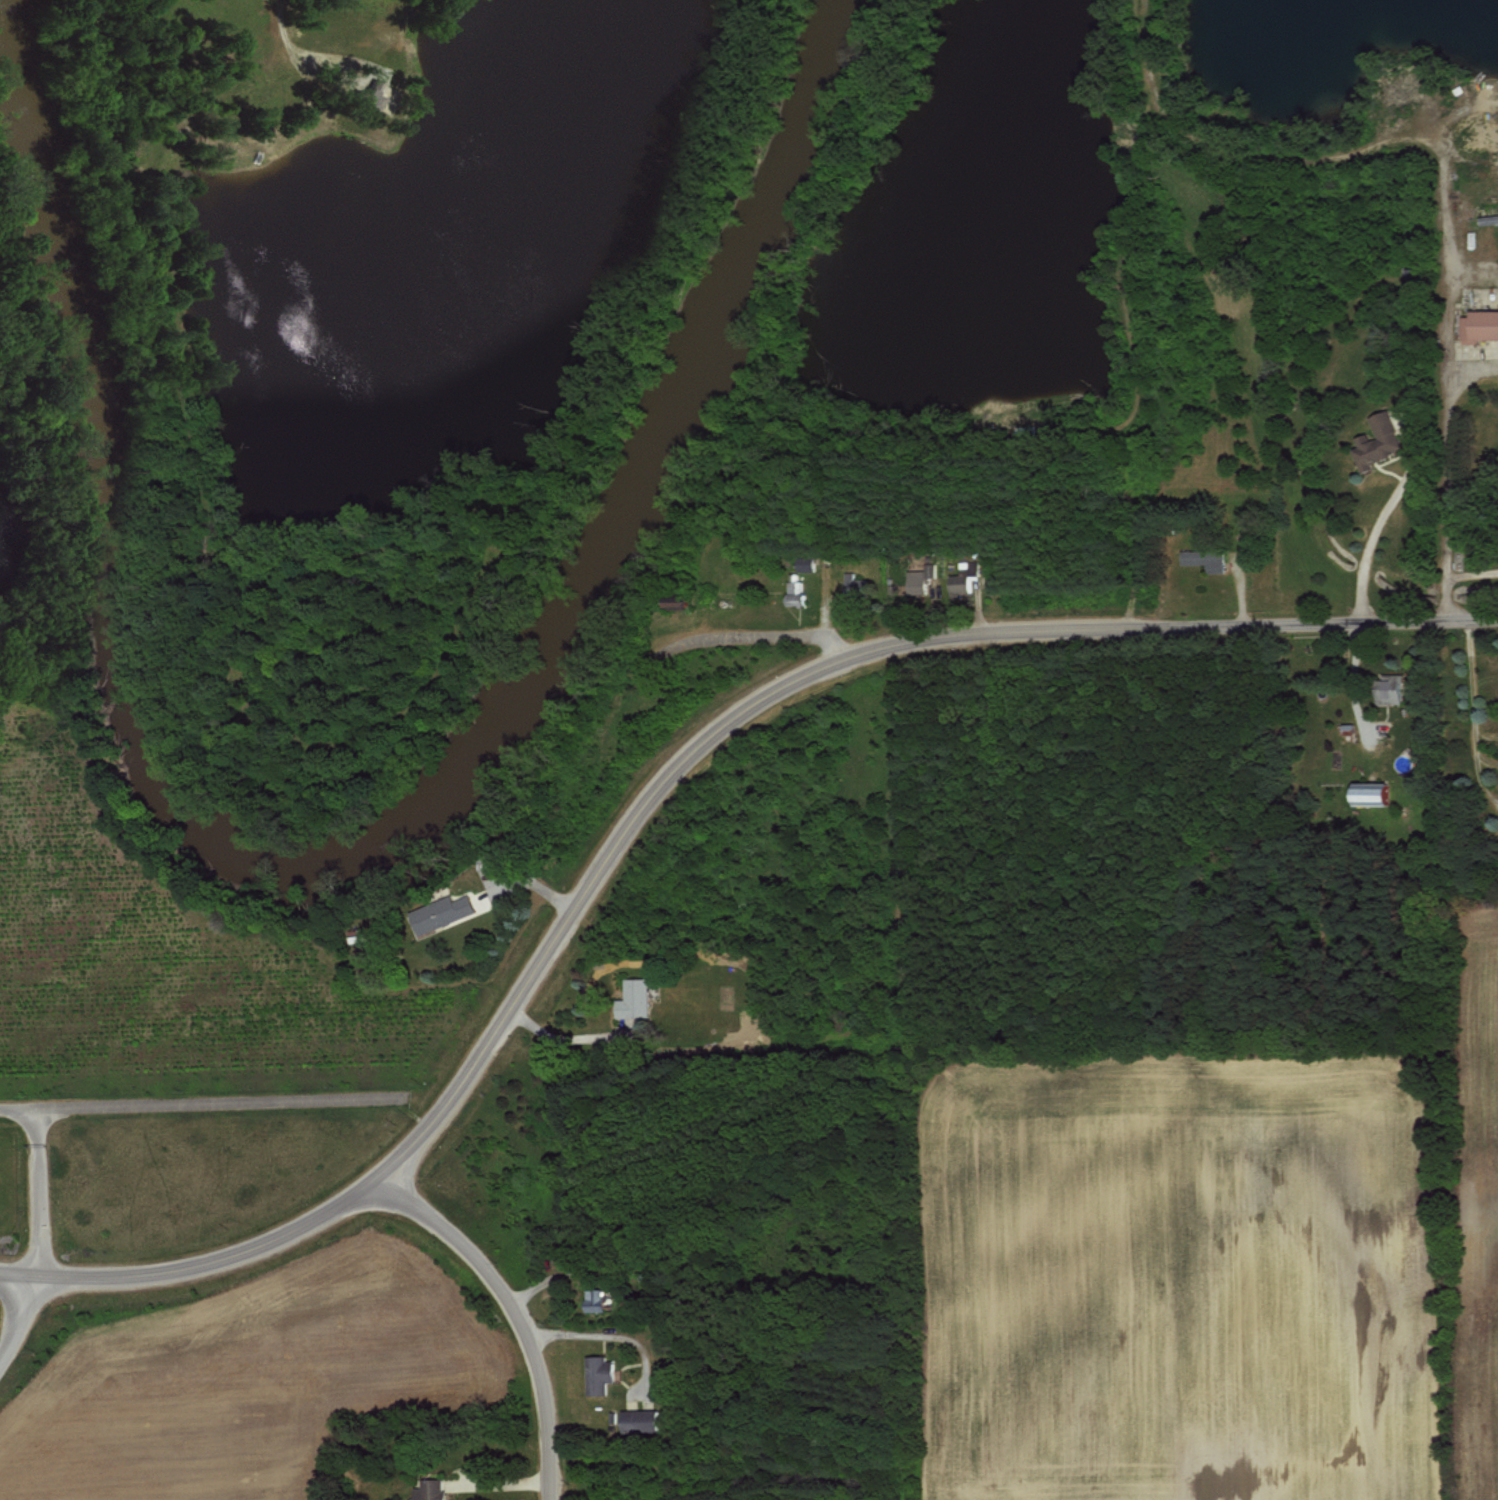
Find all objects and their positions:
building: (361, 94)
building: (1488, 218)
road: (1485, 264)
building: (1479, 325)
building: (1376, 441)
road: (1402, 481)
building: (1203, 558)
building: (805, 563)
road: (1451, 576)
building: (964, 577)
building: (922, 580)
building: (854, 585)
building: (794, 588)
road: (767, 634)
road: (1466, 674)
building: (1387, 689)
road: (1481, 732)
road: (1472, 753)
road: (662, 789)
building: (1365, 793)
river: (418, 842)
road: (529, 885)
building: (439, 913)
building: (632, 999)
road: (19, 1113)
road: (39, 1242)
building: (594, 1299)
road: (518, 1312)
road: (606, 1335)
building: (598, 1373)
building: (639, 1420)
road: (501, 1485)
building: (429, 1489)

